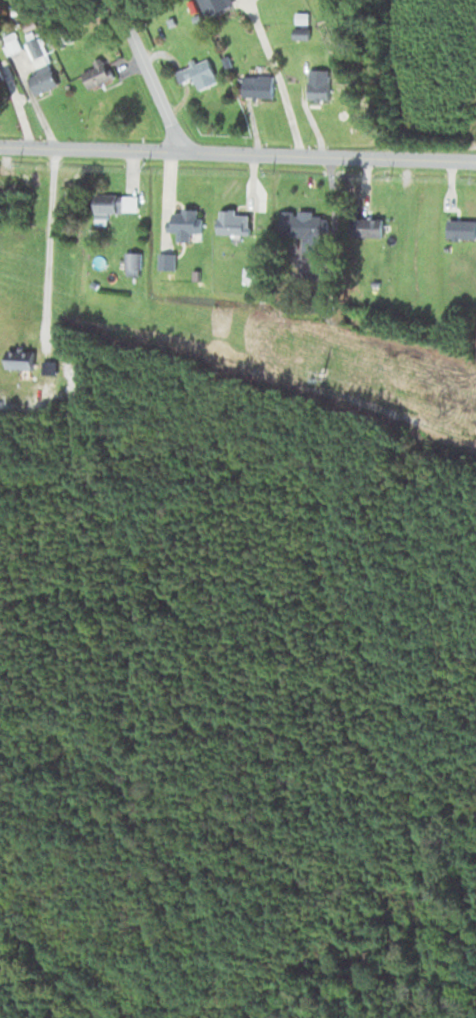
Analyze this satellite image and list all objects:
building: (217, 6)
building: (10, 43)
building: (3, 70)
building: (197, 73)
building: (39, 74)
building: (95, 75)
road: (149, 75)
road: (280, 77)
building: (318, 85)
building: (257, 86)
road: (238, 153)
building: (129, 202)
building: (104, 205)
building: (233, 221)
building: (186, 223)
building: (366, 225)
building: (303, 226)
road: (44, 248)
building: (131, 261)
building: (19, 358)

